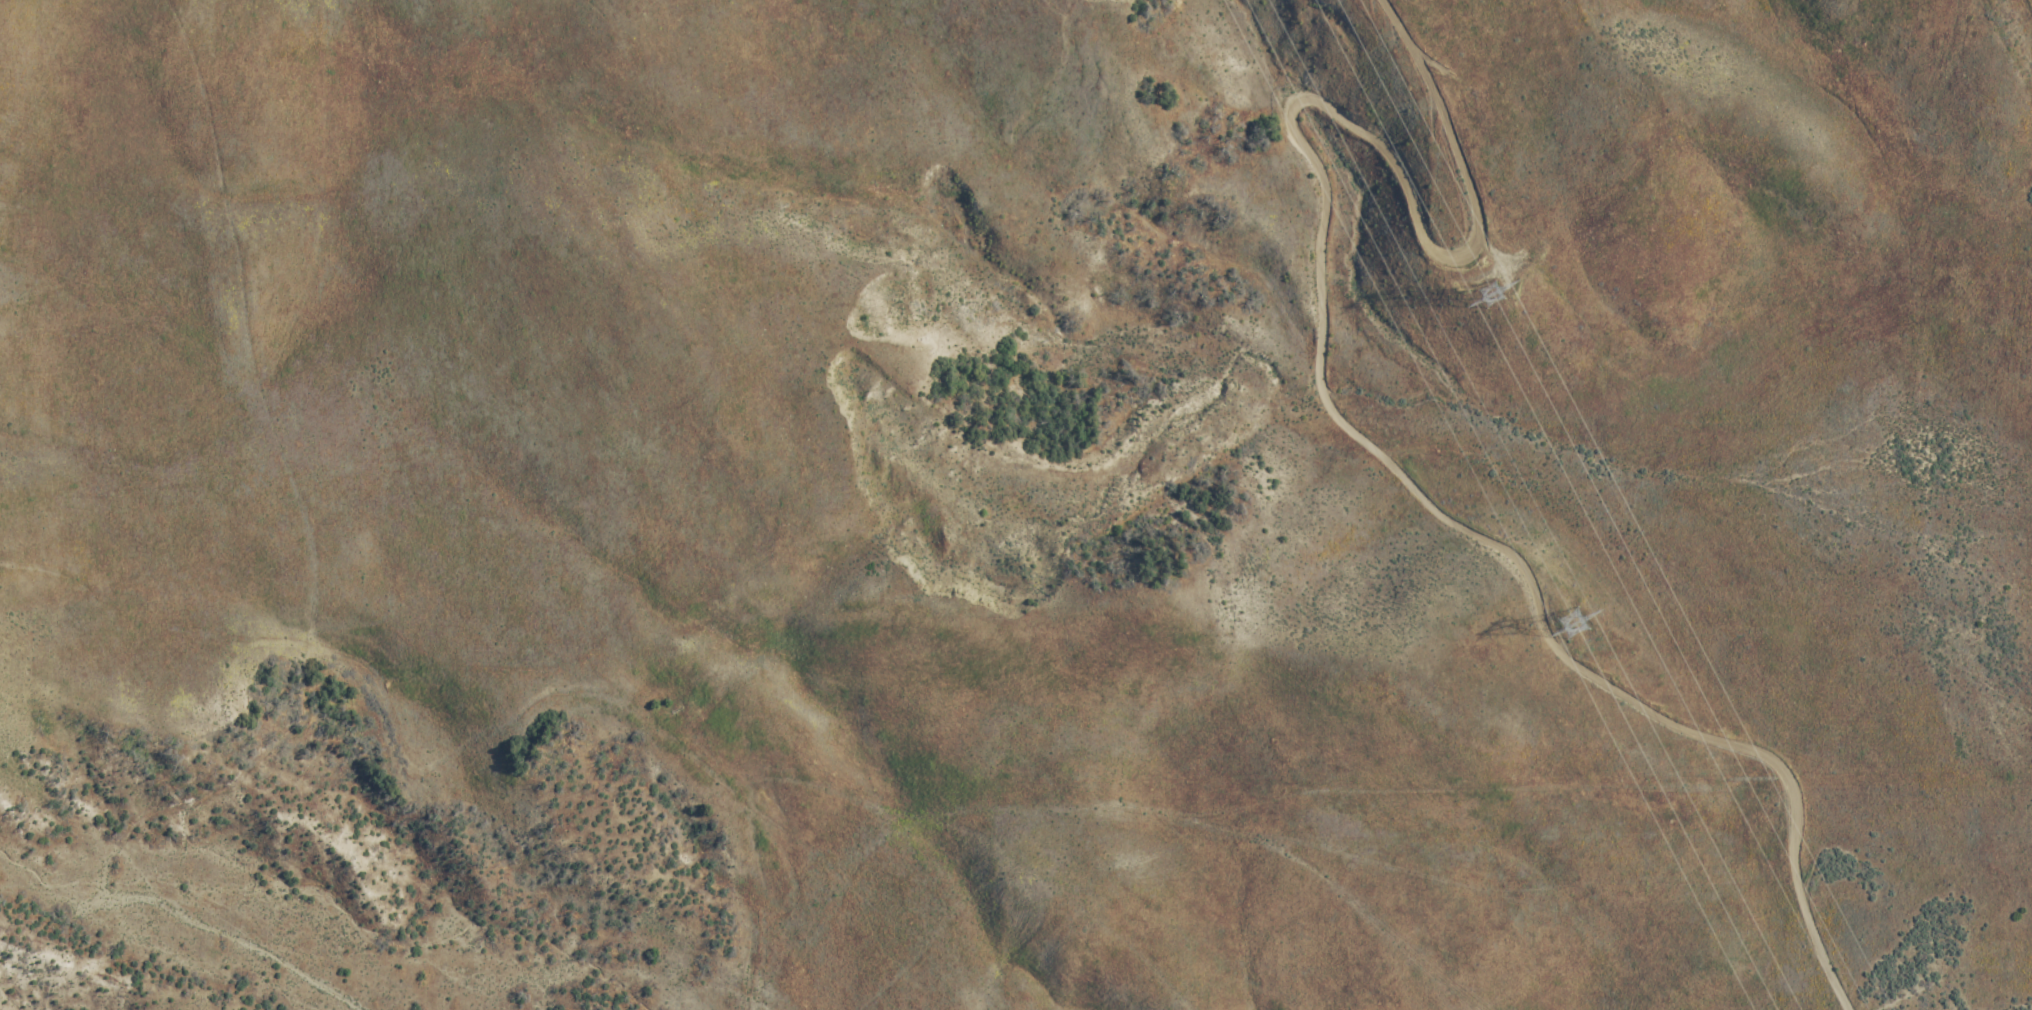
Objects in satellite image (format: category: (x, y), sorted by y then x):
power tower: (1493, 306)
road: (1332, 403)
power tower: (1565, 634)

